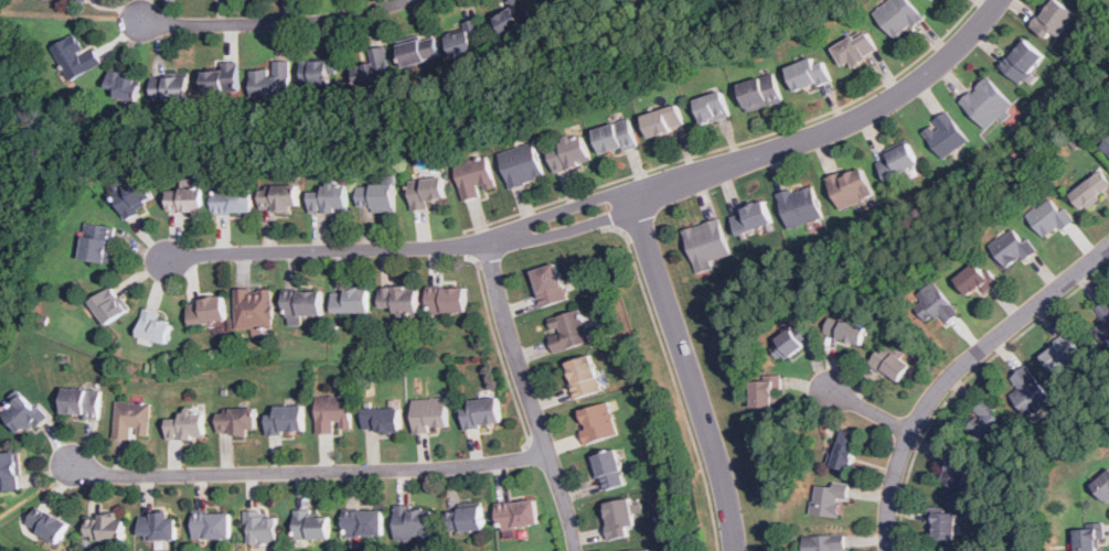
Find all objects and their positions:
building: (83, 0)
building: (86, 0)
building: (932, 0)
road: (71, 15)
building: (515, 17)
building: (898, 17)
building: (1054, 20)
road: (277, 23)
building: (469, 40)
building: (855, 50)
building: (419, 52)
building: (76, 57)
building: (1022, 61)
building: (374, 71)
building: (316, 74)
building: (808, 75)
building: (223, 79)
building: (273, 82)
building: (122, 86)
building: (170, 88)
building: (760, 93)
building: (985, 104)
building: (713, 108)
building: (663, 122)
road: (835, 127)
building: (946, 136)
building: (616, 138)
road: (735, 142)
building: (1107, 150)
building: (571, 154)
building: (897, 163)
building: (522, 165)
building: (476, 177)
building: (193, 181)
building: (851, 187)
building: (1091, 191)
building: (426, 192)
building: (279, 197)
building: (376, 197)
building: (134, 198)
building: (186, 199)
building: (330, 199)
building: (233, 201)
building: (800, 205)
road: (557, 209)
building: (751, 218)
building: (1049, 218)
road: (632, 227)
road: (568, 230)
building: (97, 244)
road: (466, 245)
building: (706, 245)
building: (1014, 246)
road: (328, 250)
road: (486, 262)
building: (977, 279)
building: (550, 285)
building: (448, 300)
building: (351, 301)
building: (401, 301)
building: (939, 304)
building: (108, 306)
building: (302, 306)
building: (254, 310)
building: (206, 312)
building: (1102, 321)
building: (154, 327)
building: (568, 331)
building: (846, 331)
building: (792, 342)
building: (1060, 353)
road: (501, 356)
building: (892, 364)
road: (690, 370)
road: (957, 371)
building: (584, 378)
road: (674, 382)
building: (1028, 392)
building: (764, 395)
road: (532, 399)
building: (82, 402)
road: (872, 411)
building: (482, 412)
building: (23, 413)
building: (333, 413)
building: (430, 414)
building: (287, 419)
building: (382, 419)
building: (132, 420)
building: (236, 420)
building: (598, 423)
building: (188, 424)
building: (991, 426)
building: (845, 449)
building: (608, 468)
building: (9, 471)
road: (312, 472)
building: (956, 472)
building: (1103, 484)
road: (38, 489)
building: (829, 499)
building: (520, 514)
building: (619, 517)
building: (466, 518)
building: (943, 522)
building: (47, 523)
building: (364, 523)
building: (415, 523)
building: (212, 525)
building: (158, 526)
building: (312, 526)
building: (106, 527)
building: (263, 528)
building: (1087, 539)
building: (824, 542)
building: (640, 550)

